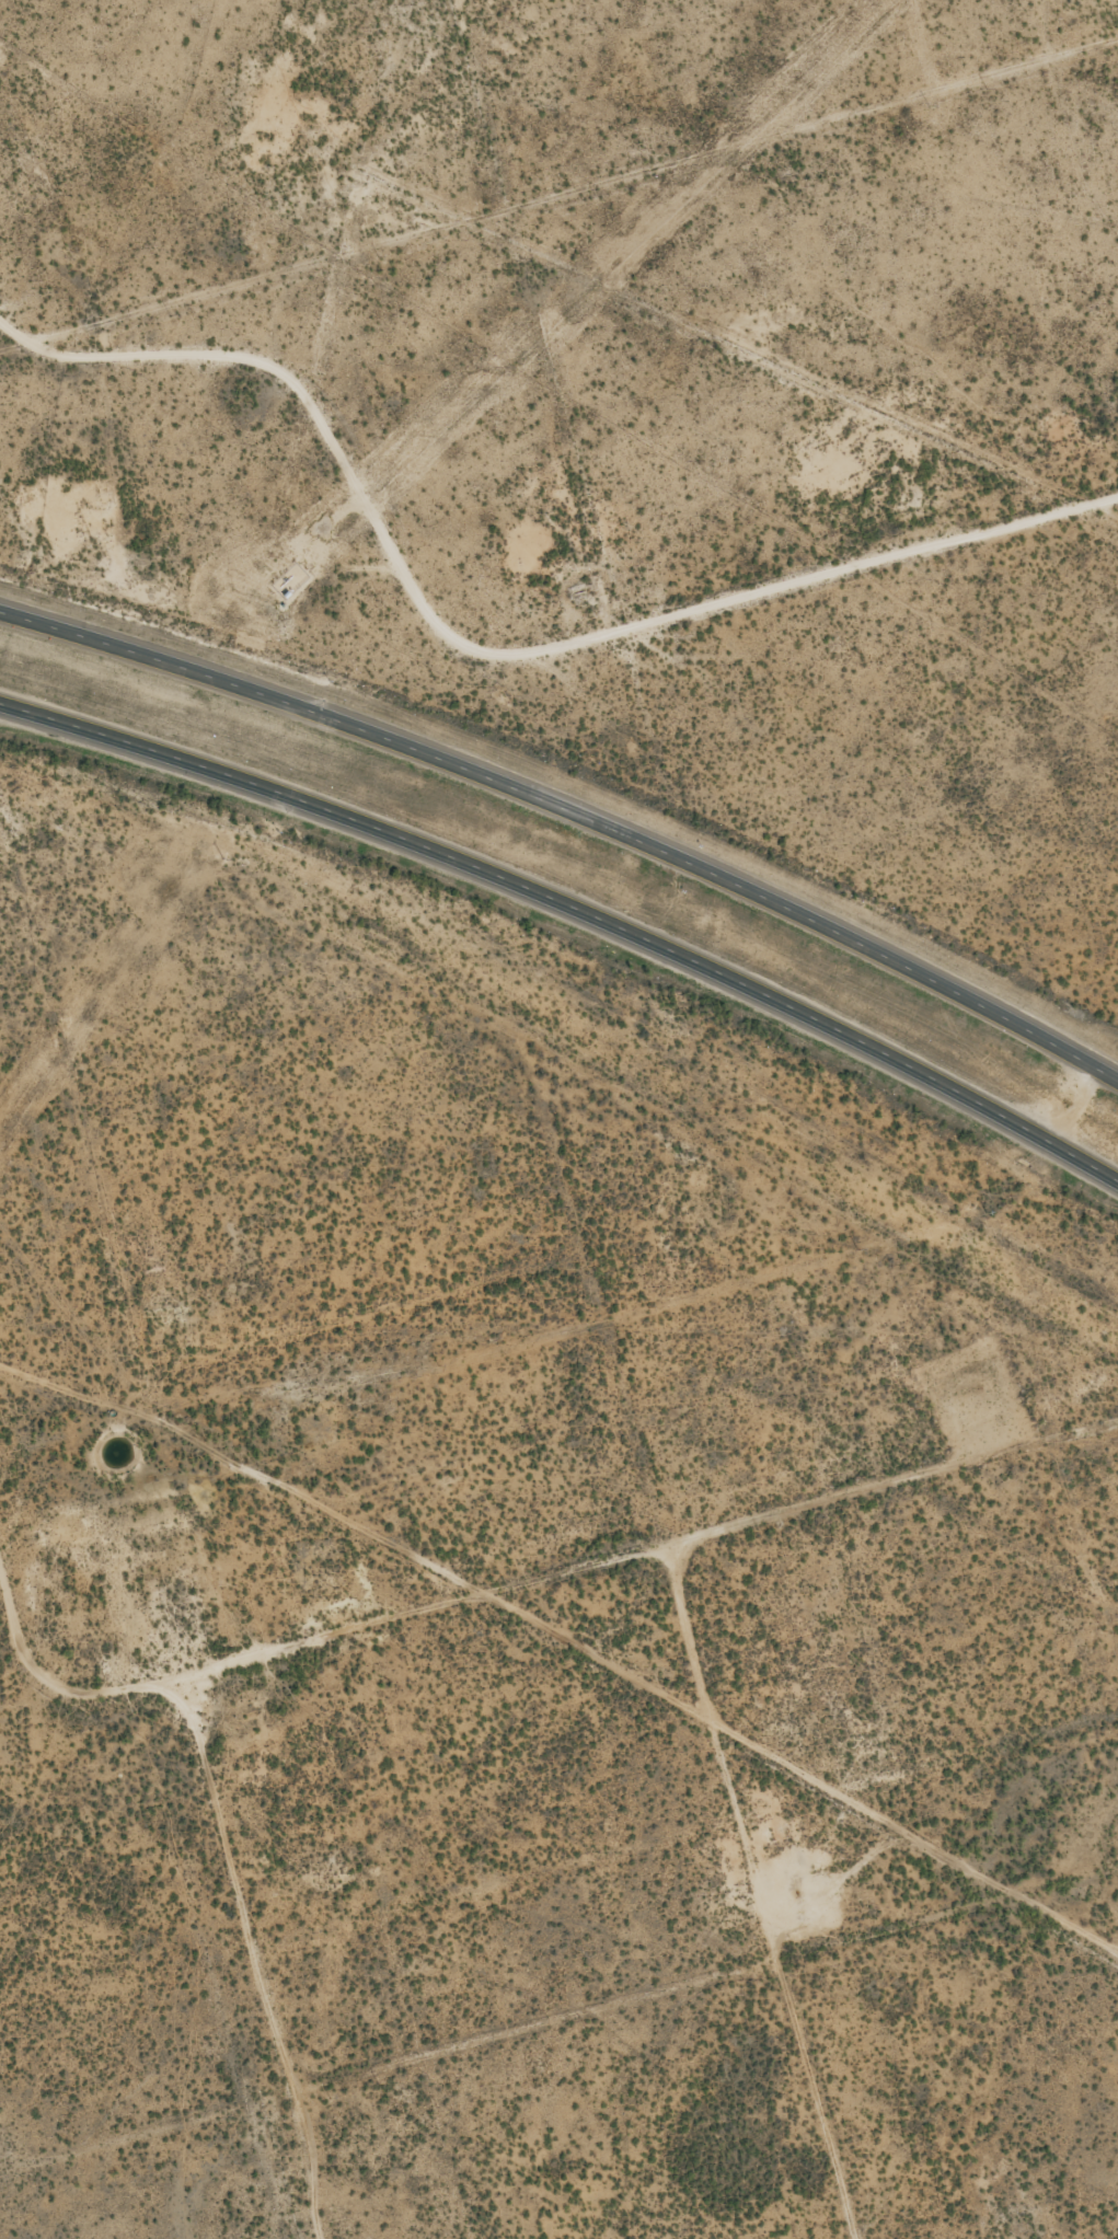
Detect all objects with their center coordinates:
road: (846, 586)
road: (572, 816)
road: (573, 907)

